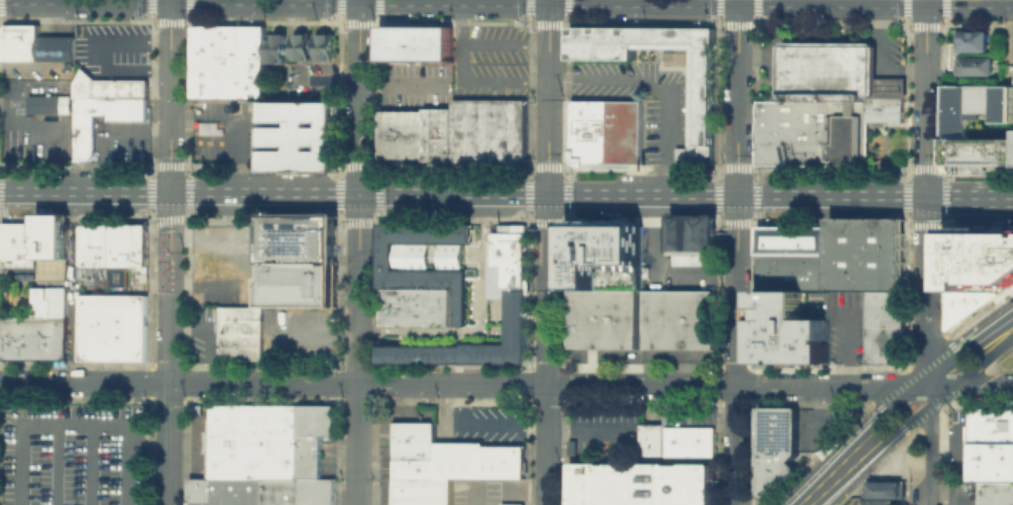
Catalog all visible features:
road: (67, 2)
traffic signals: (171, 4)
traffic signals: (360, 5)
road: (506, 5)
traffic signals: (550, 6)
traffic signals: (738, 7)
traffic signals: (928, 8)
parking lot: (56, 28)
building: (206, 33)
building: (975, 40)
building: (35, 43)
building: (415, 43)
building: (302, 45)
building: (325, 45)
building: (276, 46)
parking lot: (114, 48)
building: (206, 51)
building: (233, 65)
building: (979, 65)
parking lot: (460, 71)
parking lot: (310, 81)
road: (399, 85)
building: (109, 86)
road: (658, 88)
building: (843, 92)
road: (171, 96)
road: (359, 96)
road: (549, 96)
road: (738, 97)
road: (927, 98)
parking lot: (642, 100)
building: (702, 102)
building: (50, 103)
building: (979, 105)
building: (776, 108)
parking lot: (35, 121)
road: (240, 122)
building: (776, 124)
building: (300, 127)
building: (488, 128)
building: (606, 131)
building: (414, 133)
building: (804, 133)
building: (821, 133)
building: (83, 136)
parking lot: (118, 139)
parking lot: (234, 141)
building: (766, 149)
building: (785, 149)
building: (980, 154)
building: (271, 161)
building: (287, 161)
building: (312, 161)
building: (328, 161)
traffic signals: (170, 193)
traffic signals: (359, 194)
road: (463, 194)
traffic signals: (549, 194)
traffic signals: (738, 195)
traffic signals: (927, 196)
road: (969, 198)
road: (189, 204)
road: (338, 205)
road: (226, 216)
road: (19, 217)
road: (299, 217)
road: (337, 217)
road: (340, 217)
road: (350, 217)
road: (52, 218)
road: (169, 218)
road: (108, 219)
building: (286, 224)
building: (311, 224)
building: (328, 224)
building: (53, 226)
building: (691, 235)
parking lot: (224, 236)
road: (72, 237)
road: (226, 238)
building: (796, 239)
building: (136, 243)
building: (50, 245)
building: (296, 247)
building: (95, 251)
building: (30, 252)
building: (602, 253)
building: (870, 256)
building: (118, 257)
building: (506, 259)
building: (980, 259)
building: (796, 272)
building: (422, 280)
building: (300, 284)
road: (927, 286)
building: (965, 305)
building: (415, 308)
building: (602, 318)
building: (679, 319)
road: (479, 322)
building: (50, 323)
building: (796, 326)
building: (113, 327)
building: (885, 328)
road: (1007, 330)
building: (240, 332)
parking lot: (199, 333)
parking lot: (299, 333)
road: (316, 335)
building: (17, 337)
road: (73, 337)
road: (206, 338)
road: (848, 344)
road: (170, 349)
road: (358, 349)
road: (548, 349)
road: (737, 349)
road: (964, 350)
road: (995, 354)
road: (968, 363)
road: (967, 376)
road: (925, 381)
road: (932, 381)
road: (458, 385)
road: (925, 386)
road: (944, 386)
road: (984, 386)
road: (933, 394)
road: (944, 394)
road: (101, 401)
road: (885, 409)
building: (841, 416)
road: (77, 418)
road: (894, 418)
building: (690, 419)
road: (483, 421)
parking lot: (487, 422)
road: (903, 426)
building: (313, 437)
building: (252, 441)
building: (678, 441)
building: (990, 442)
building: (777, 446)
building: (414, 448)
parking lot: (72, 453)
road: (934, 453)
road: (857, 457)
building: (478, 459)
road: (64, 461)
road: (92, 461)
building: (638, 483)
road: (825, 488)
building: (887, 488)
building: (225, 490)
building: (298, 491)
building: (422, 491)
parking lot: (475, 491)
building: (994, 492)
road: (476, 495)
building: (878, 502)
building: (511, 504)
road: (925, 504)

